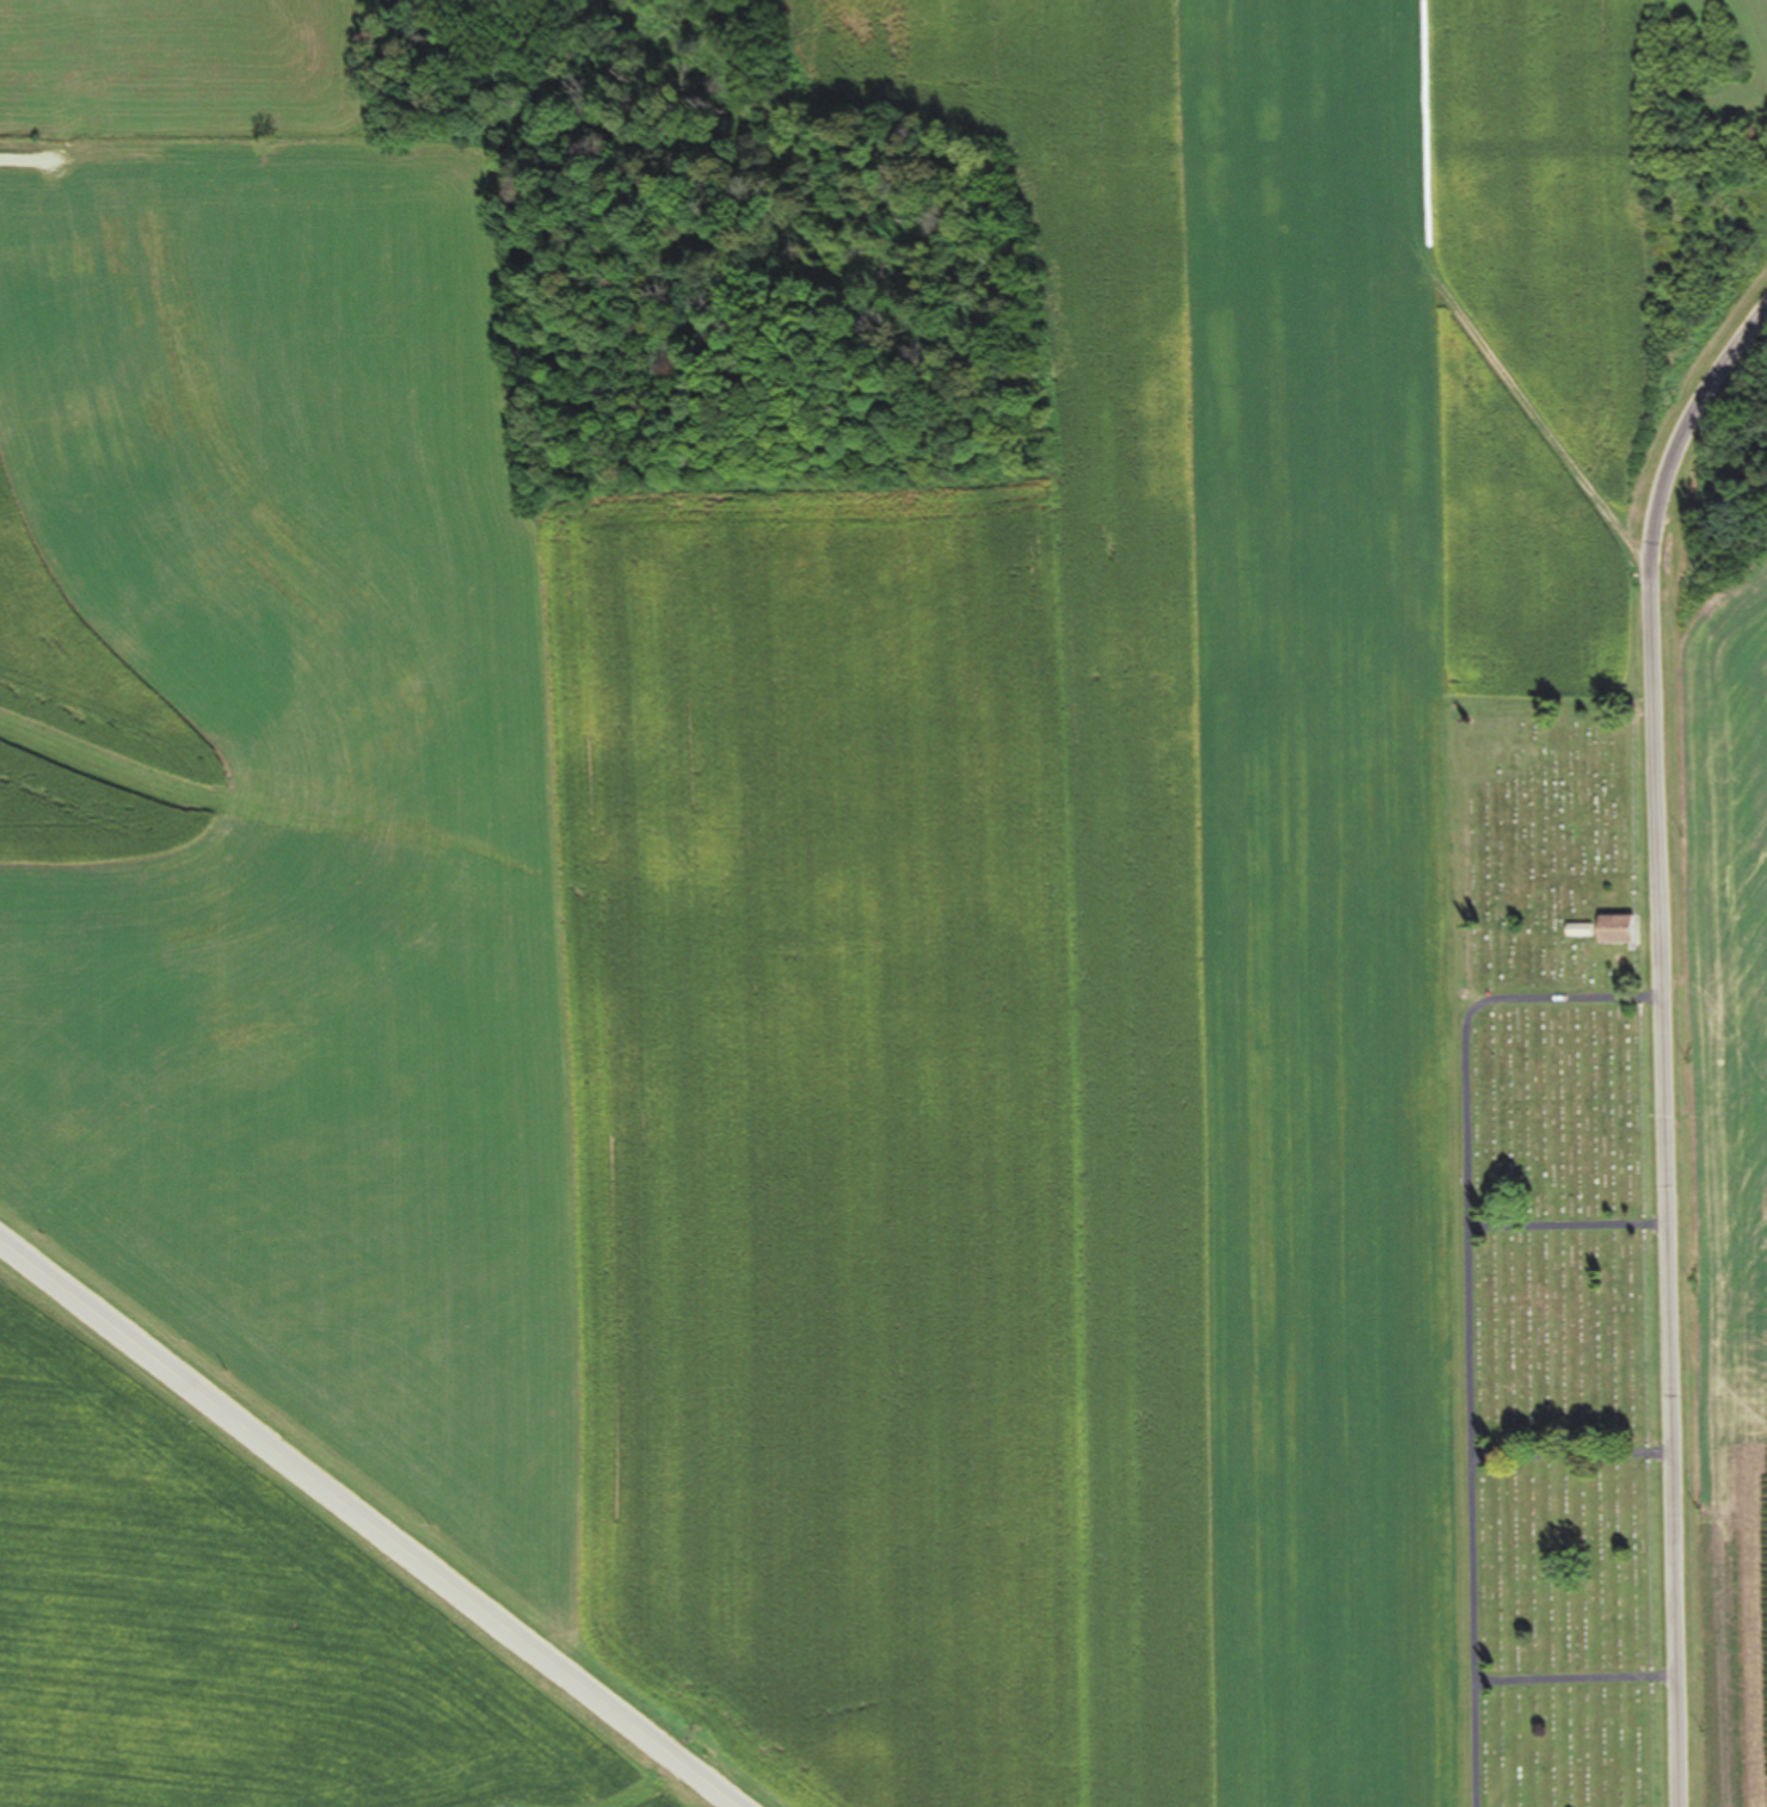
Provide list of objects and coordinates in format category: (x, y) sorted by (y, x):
building: (1624, 930)
building: (1584, 931)
road: (1661, 1041)
park: (1554, 1257)
road: (374, 1515)

